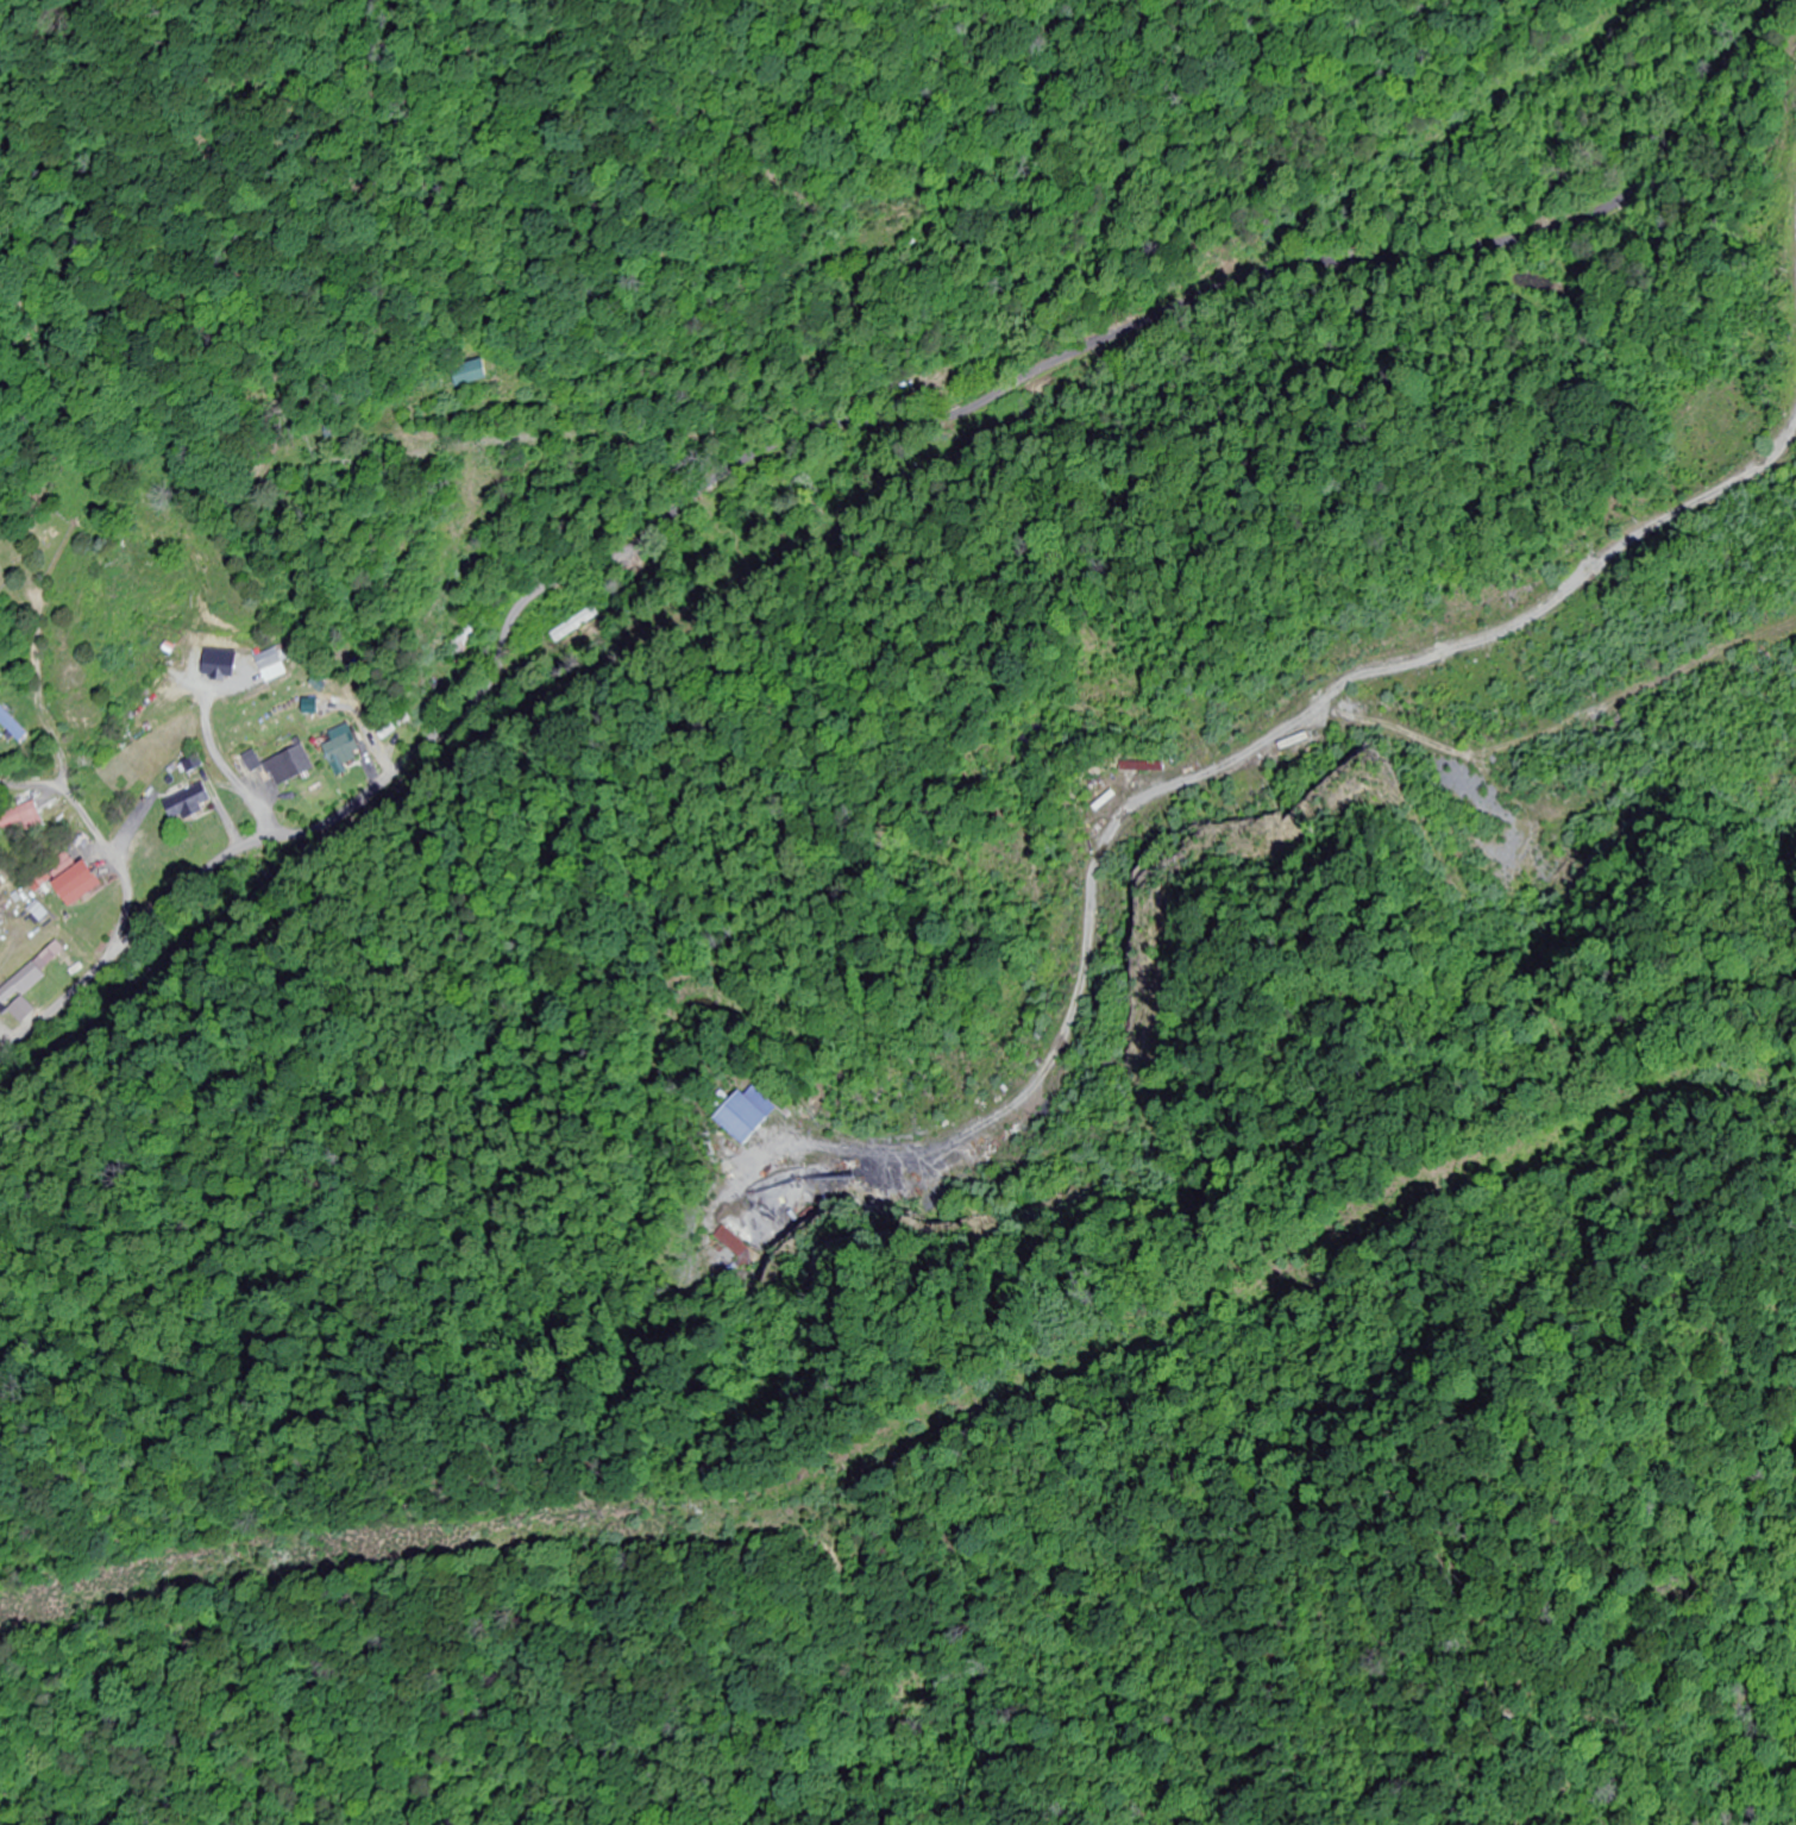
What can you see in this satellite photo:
building: (473, 374)
road: (842, 403)
building: (577, 626)
building: (277, 663)
building: (219, 667)
building: (14, 727)
building: (344, 753)
building: (289, 763)
building: (247, 764)
building: (189, 803)
building: (25, 820)
building: (62, 865)
building: (80, 885)
building: (0, 916)
building: (1, 939)
building: (27, 983)
building: (759, 1111)

